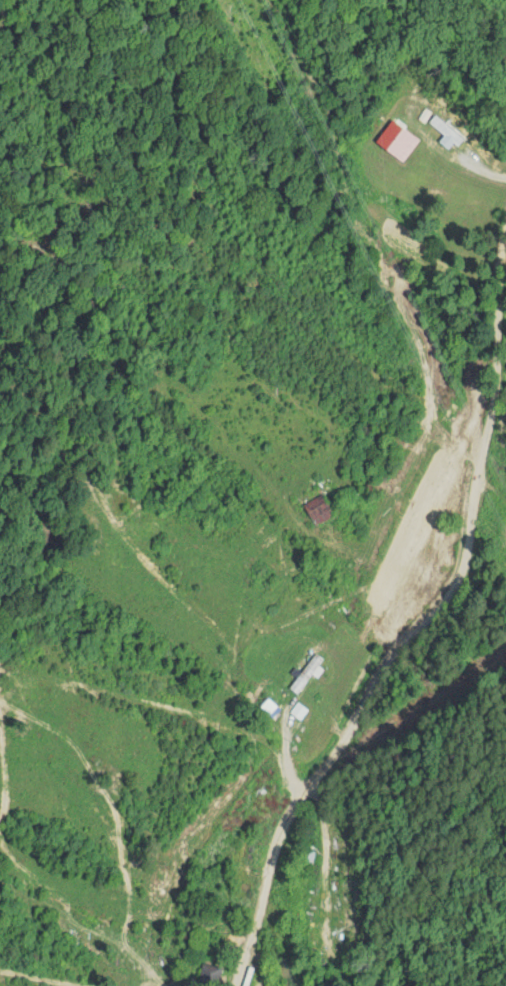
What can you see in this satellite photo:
road: (341, 734)

